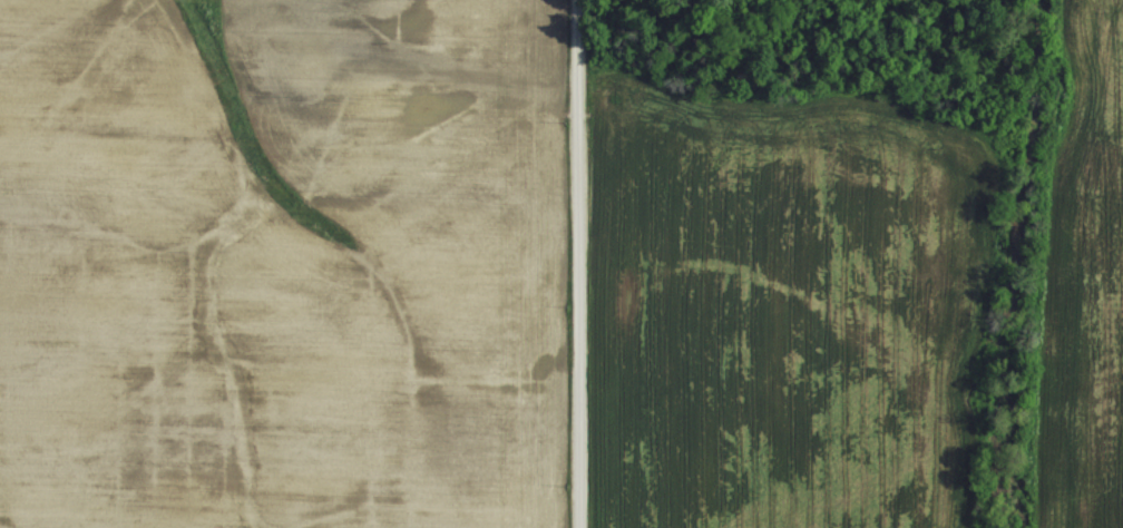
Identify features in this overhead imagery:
road: (585, 264)

